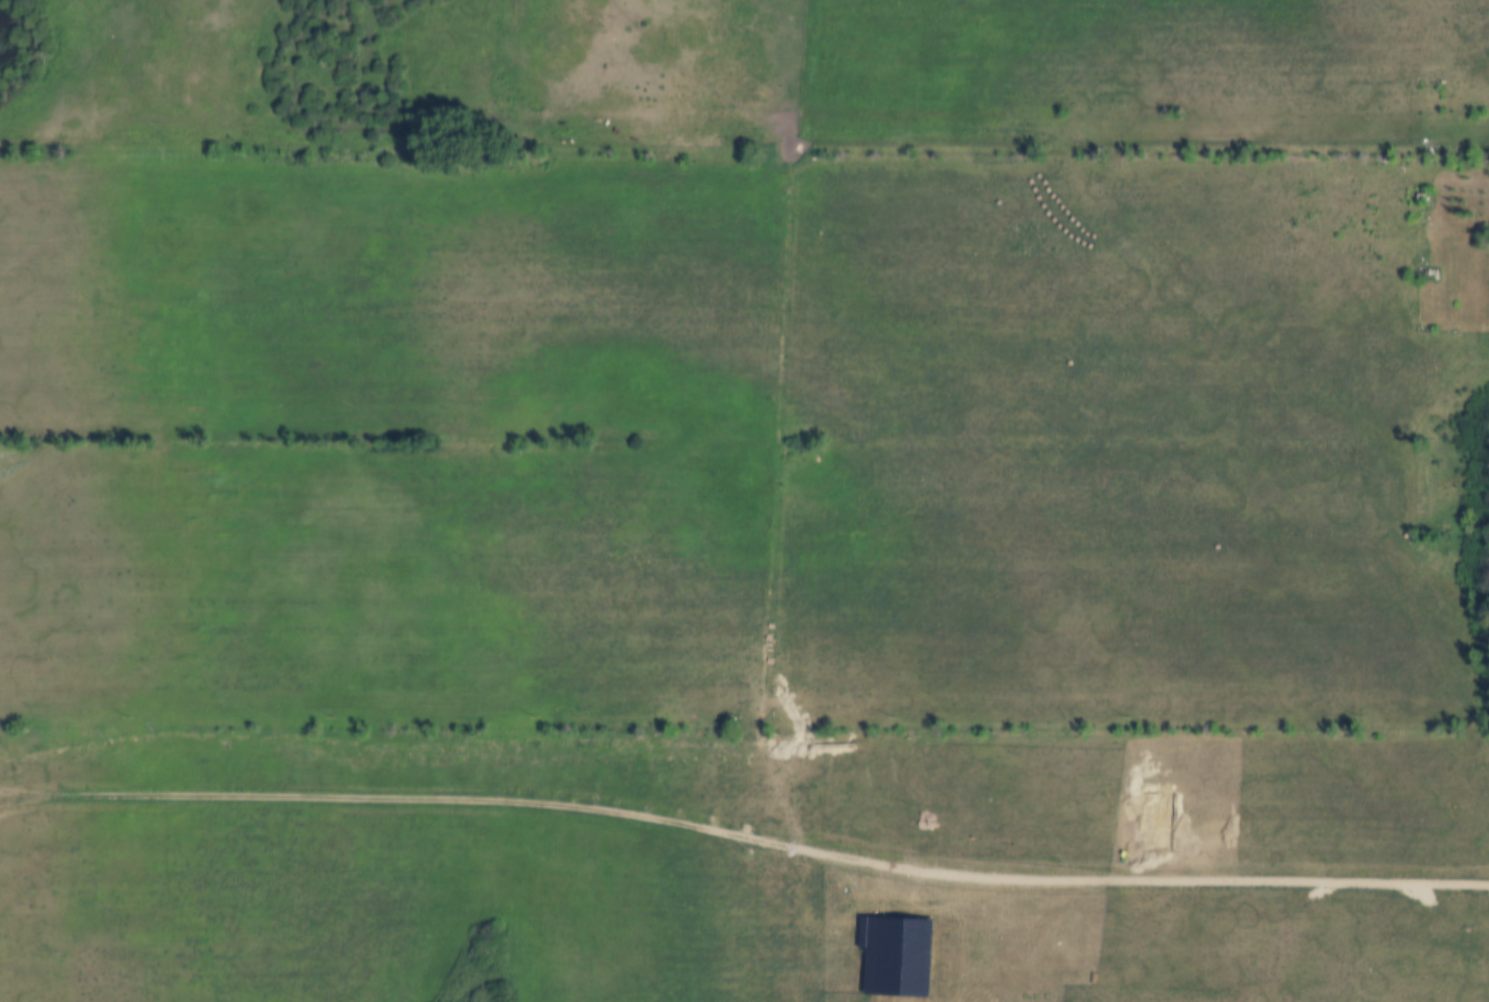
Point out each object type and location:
road: (1397, 537)

